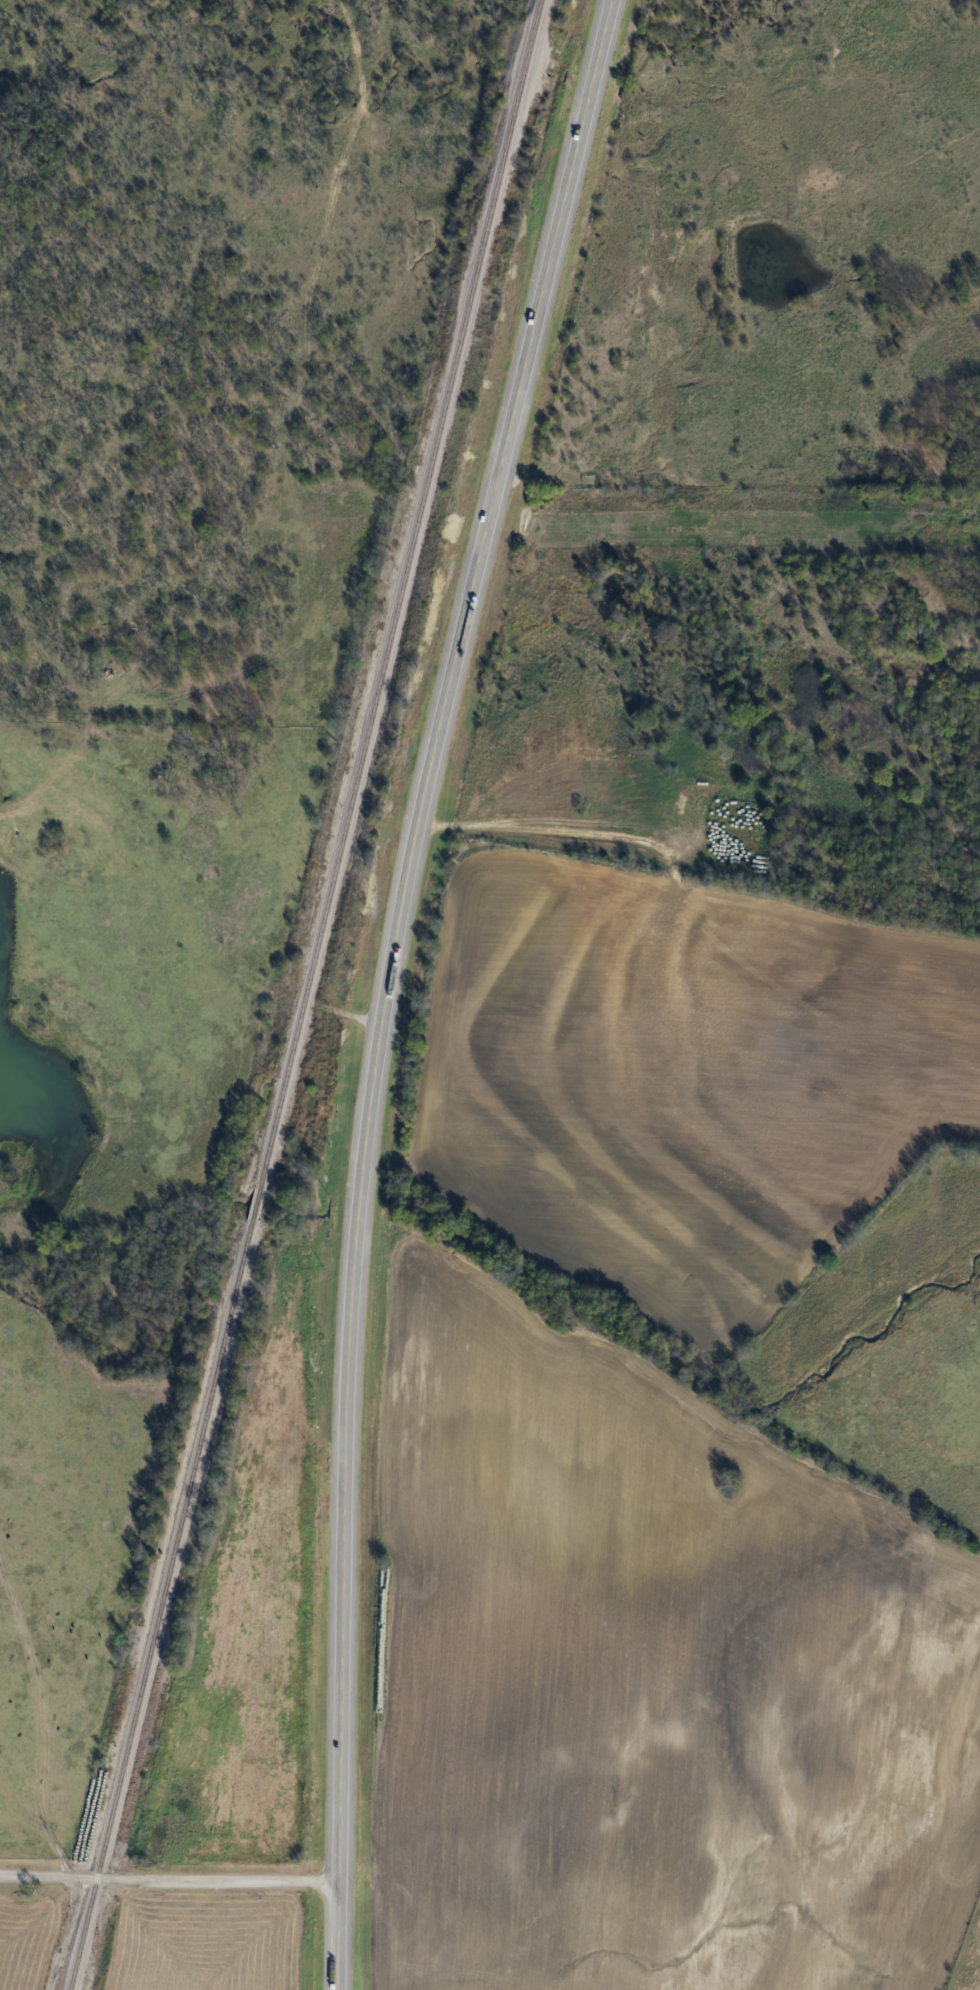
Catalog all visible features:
road: (385, 983)
railway: (306, 994)
crop: (646, 1675)
road: (48, 1878)
road: (215, 1880)

